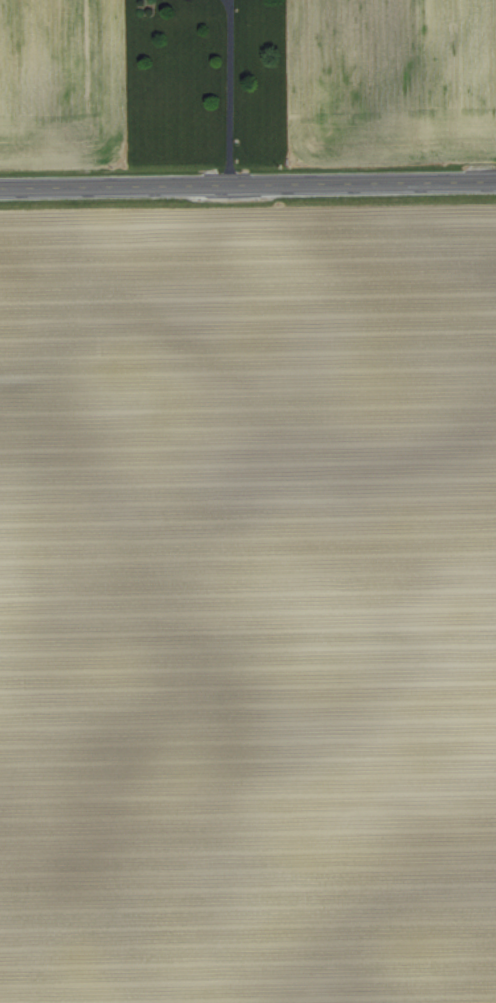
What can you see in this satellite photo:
road: (231, 92)
road: (248, 183)

